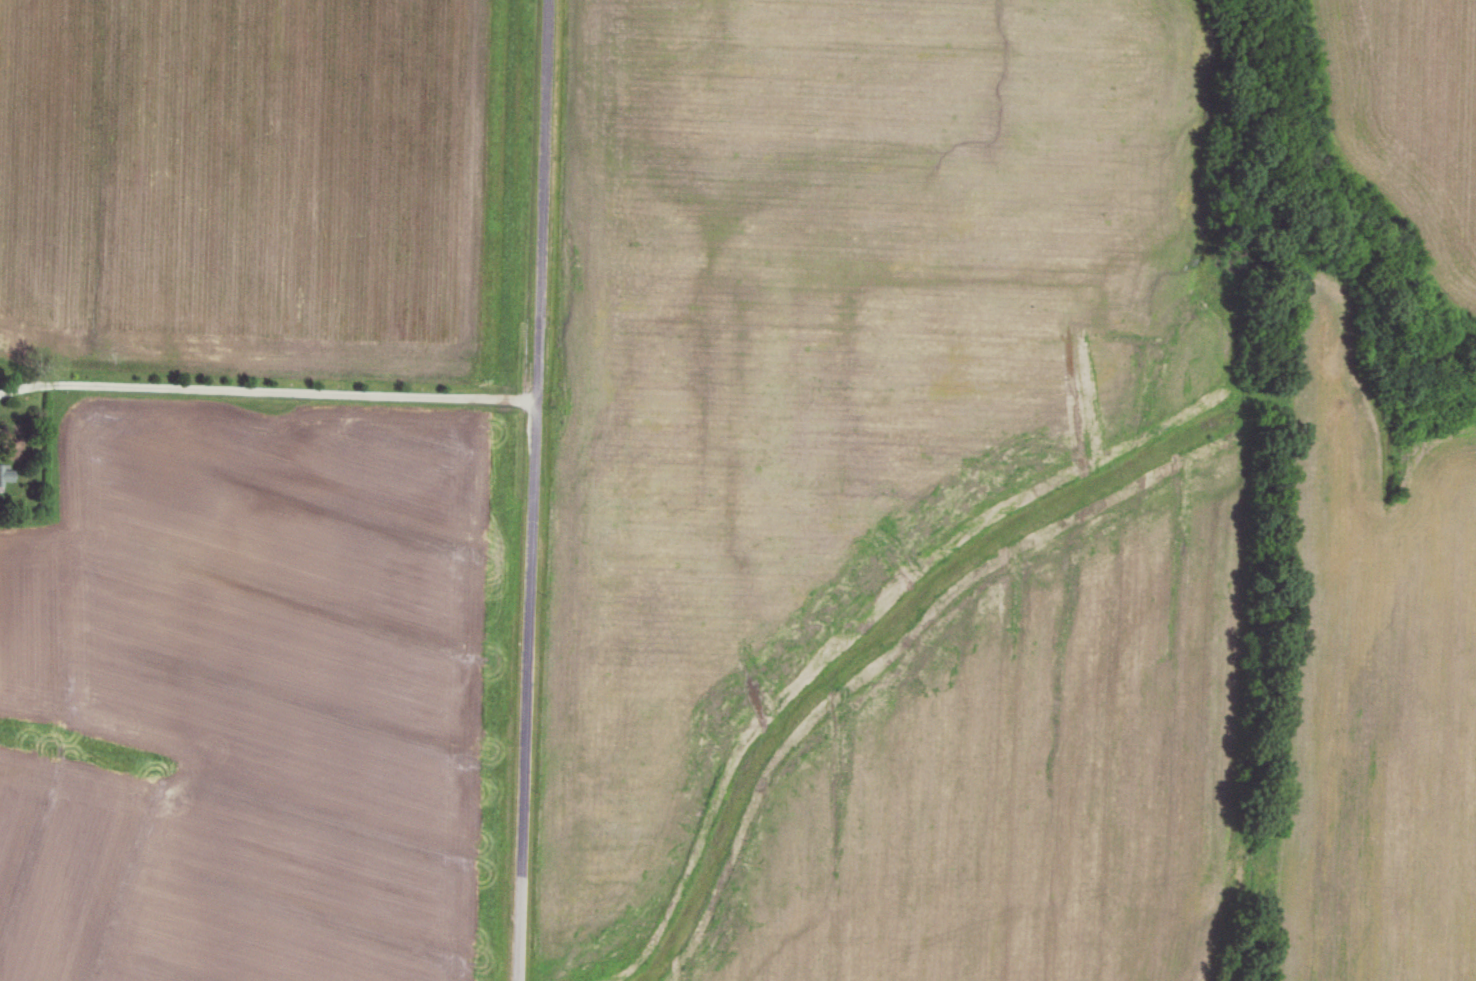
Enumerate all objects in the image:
road: (267, 388)
building: (5, 474)
road: (534, 490)

